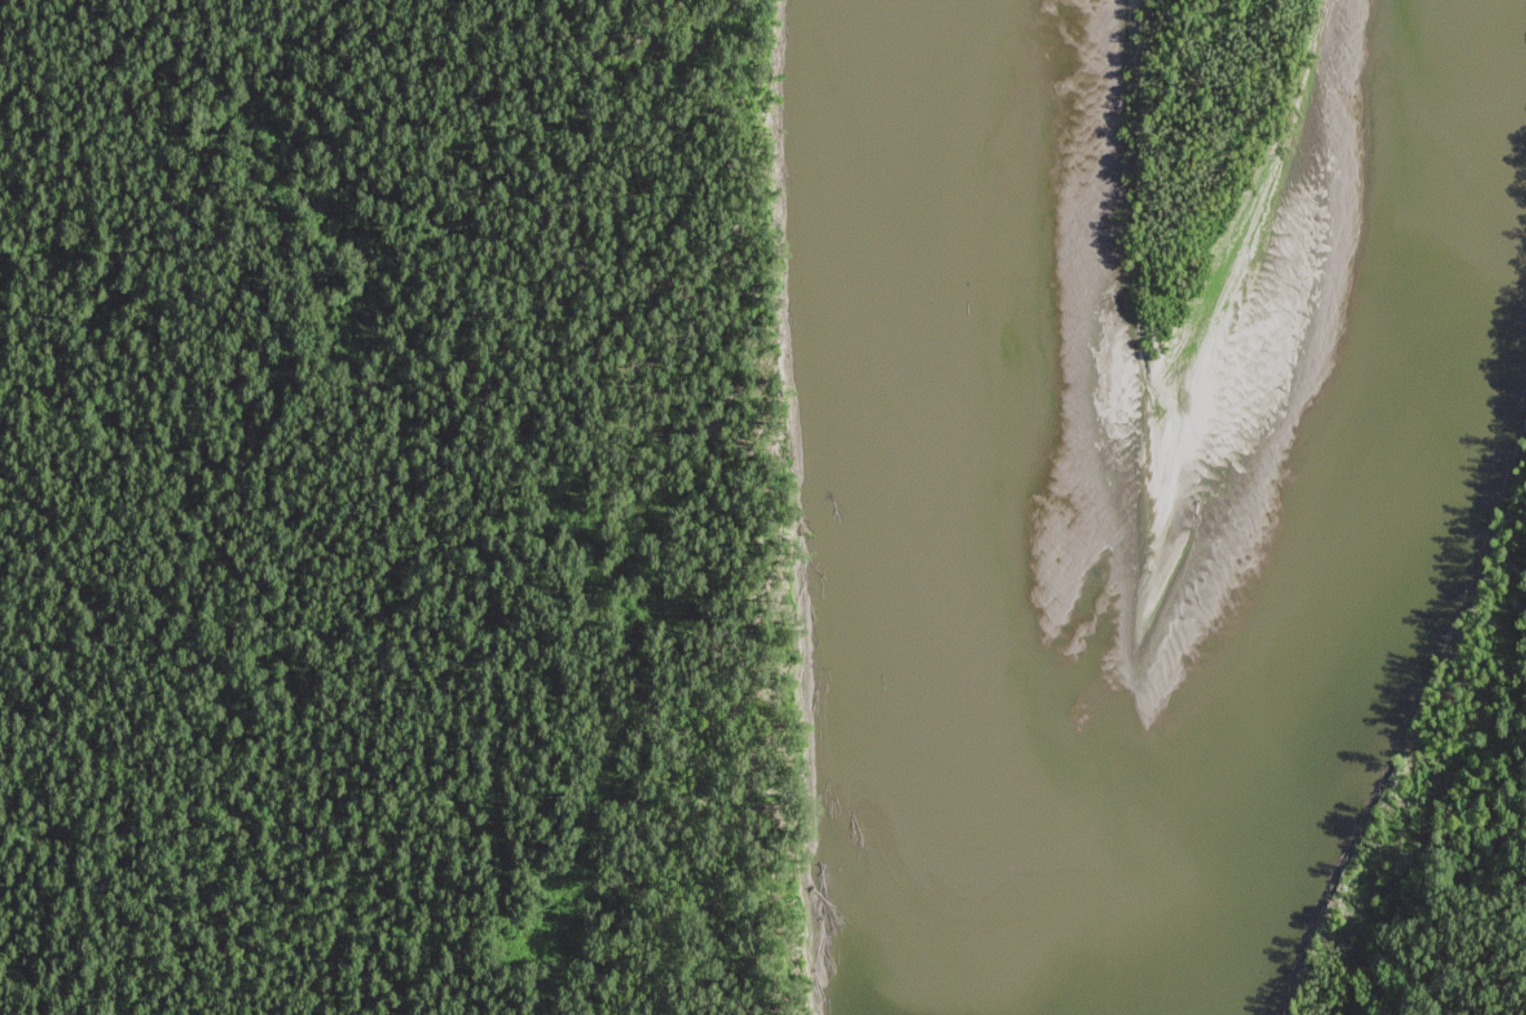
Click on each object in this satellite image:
river: (1109, 508)

